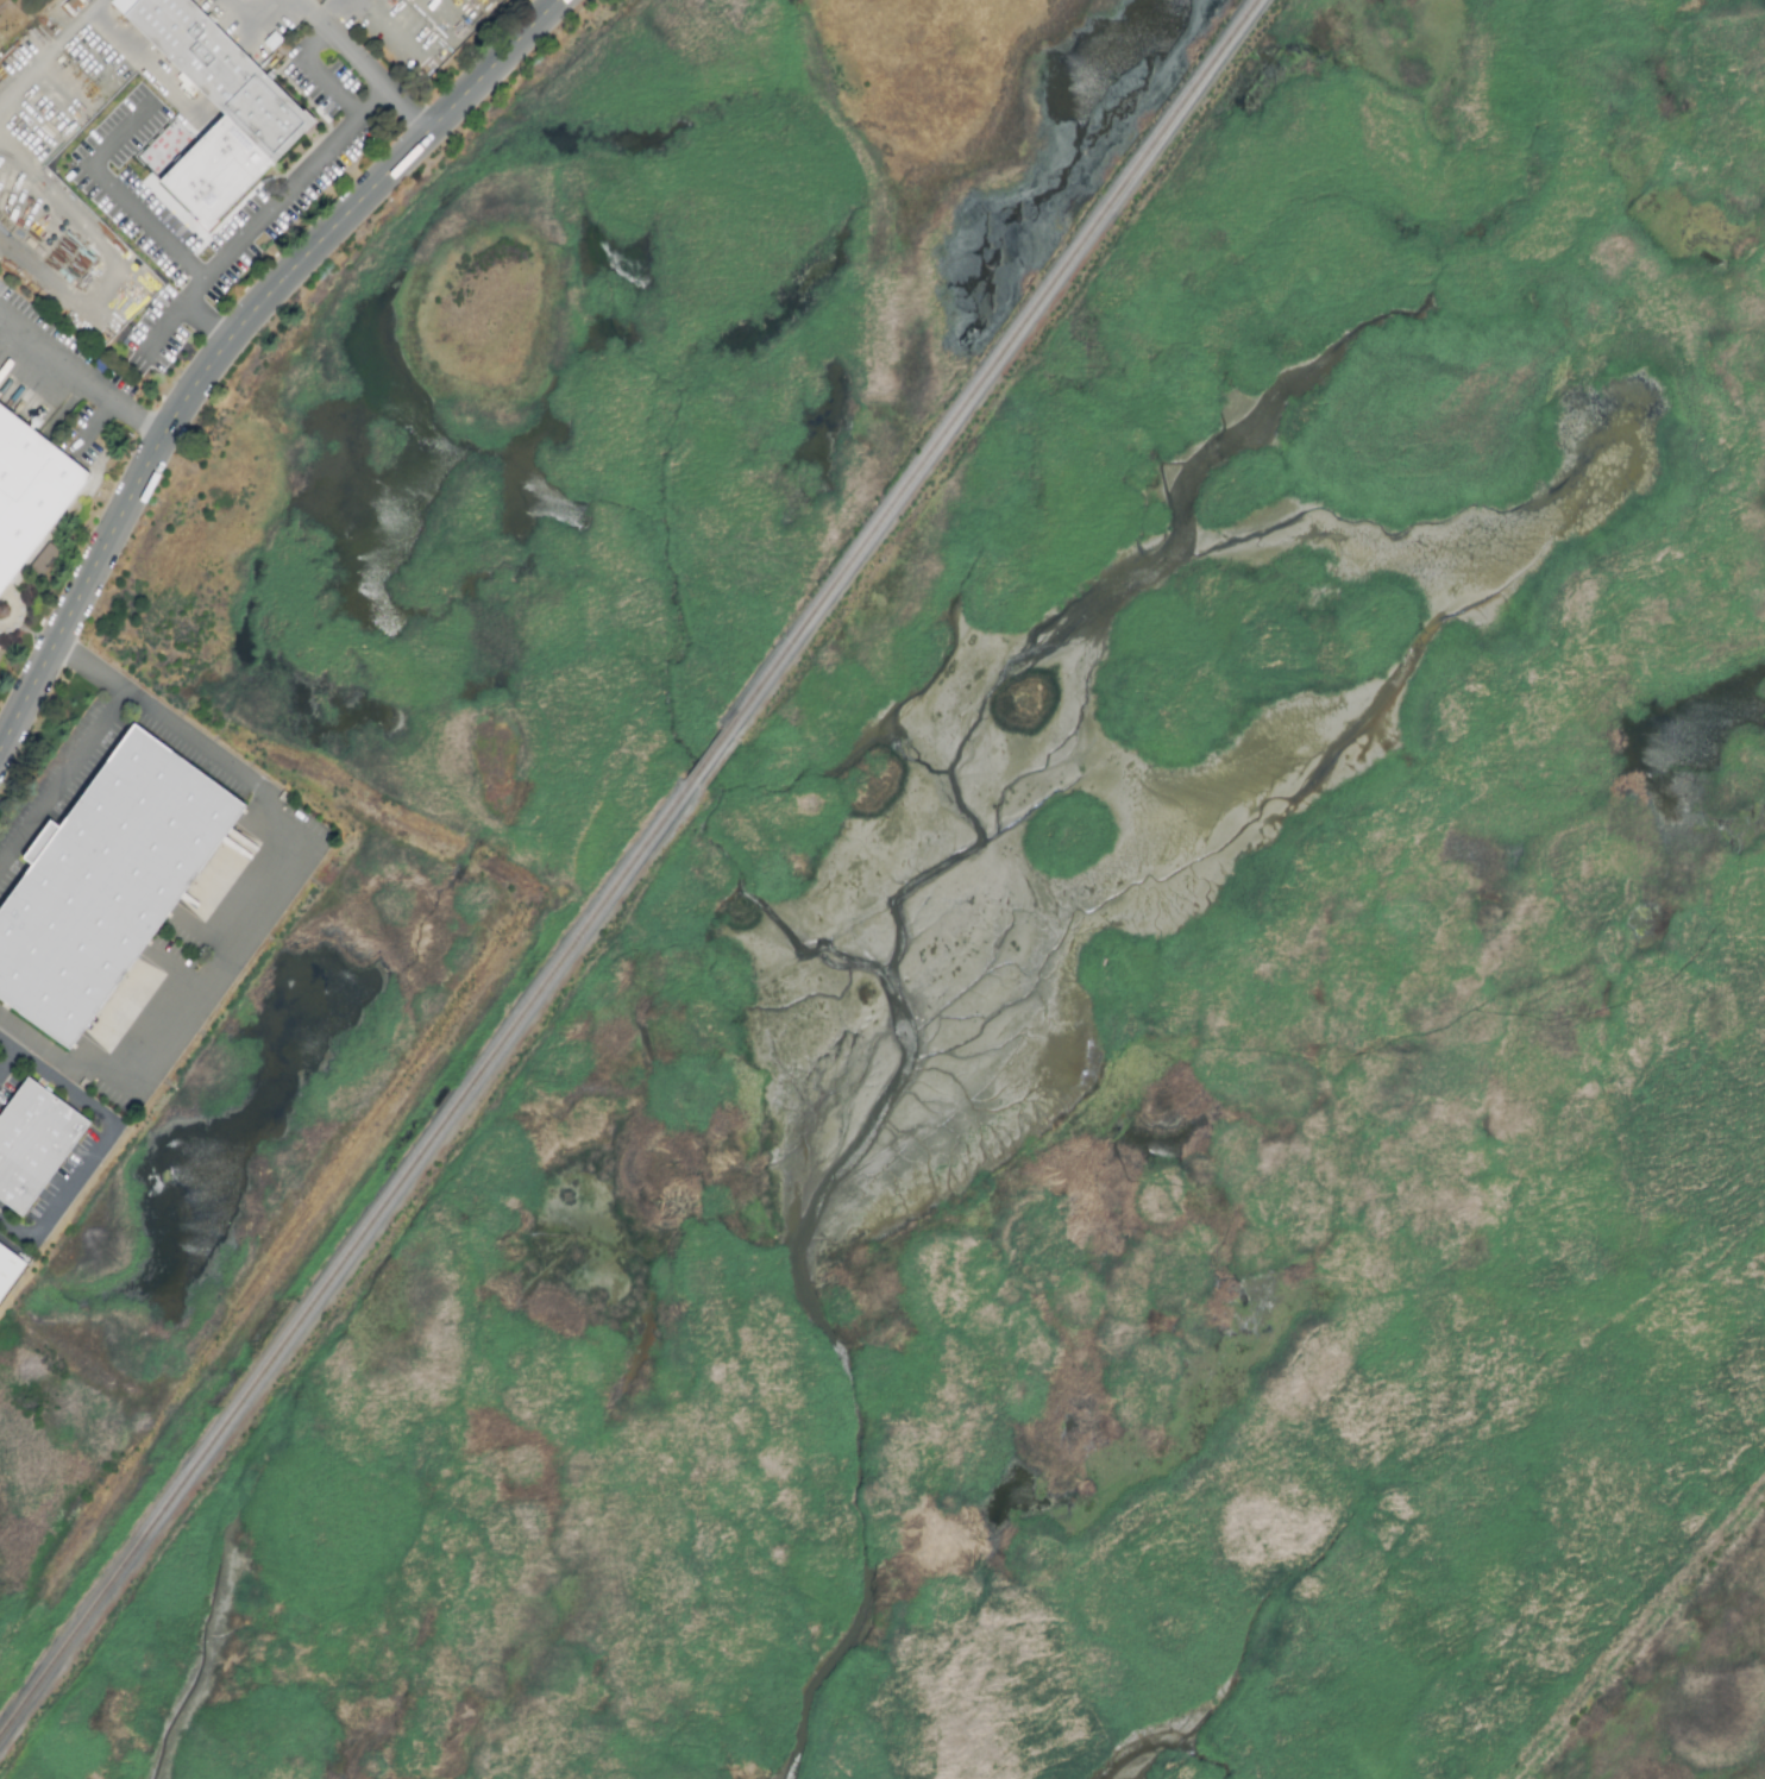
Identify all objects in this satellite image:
road: (50, 50)
road: (354, 57)
building: (220, 75)
road: (121, 196)
road: (271, 214)
road: (114, 265)
road: (221, 339)
railway: (995, 364)
road: (80, 377)
building: (31, 495)
railway: (712, 758)
road: (64, 780)
building: (107, 881)
road: (277, 898)
road: (4, 1052)
road: (100, 1144)
building: (36, 1146)
railway: (346, 1262)
building: (11, 1275)

